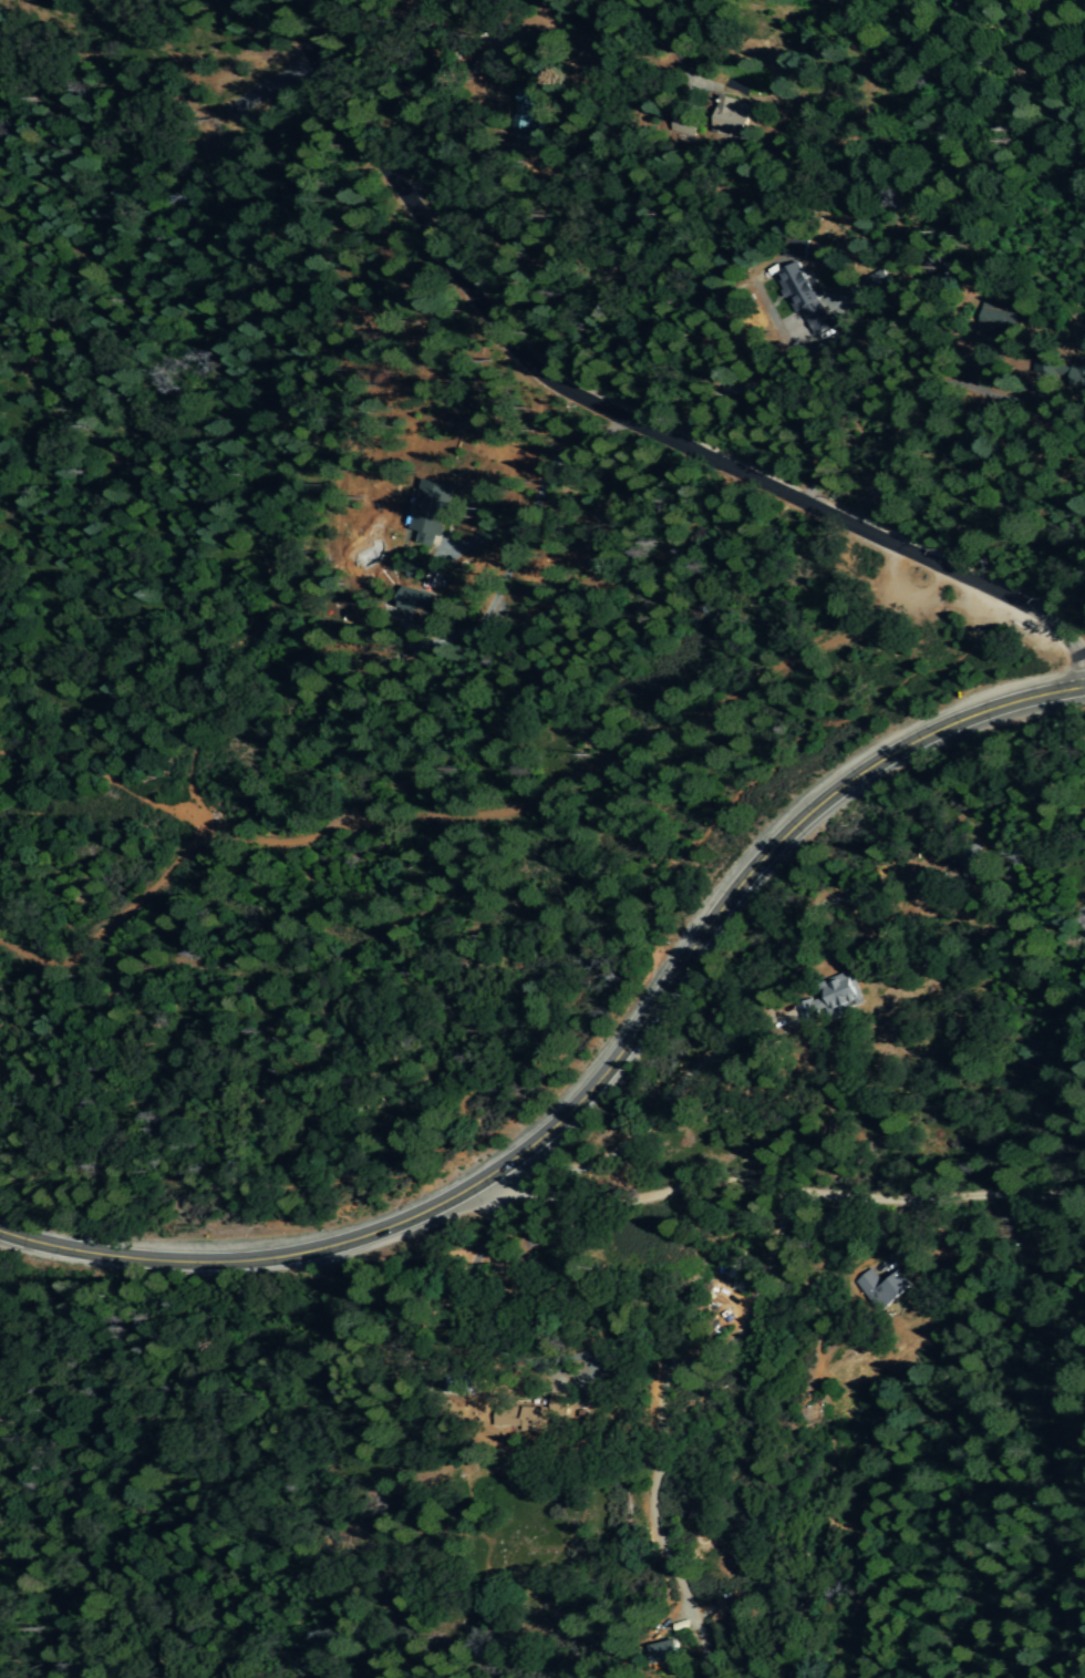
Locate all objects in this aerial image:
road: (337, 47)
road: (518, 47)
road: (679, 51)
road: (435, 72)
building: (530, 106)
building: (736, 116)
building: (683, 124)
building: (870, 287)
building: (804, 297)
building: (1001, 319)
building: (1060, 370)
road: (734, 379)
road: (920, 397)
road: (610, 413)
road: (538, 501)
building: (428, 512)
road: (227, 649)
road: (489, 811)
building: (837, 995)
road: (557, 1011)
road: (596, 1080)
road: (781, 1184)
road: (50, 1197)
building: (882, 1288)
building: (670, 1655)

